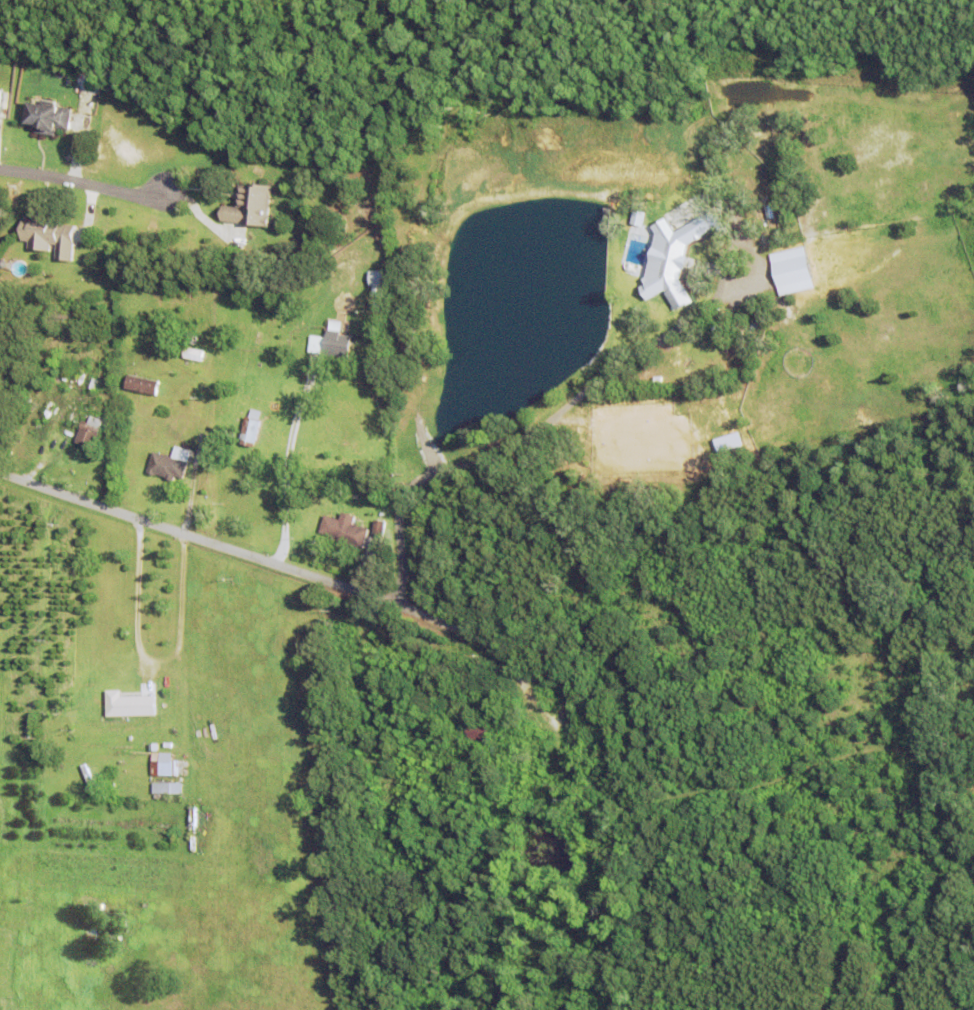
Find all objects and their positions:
building: (8, 61)
building: (48, 116)
road: (89, 185)
building: (250, 204)
building: (49, 235)
building: (670, 260)
building: (790, 270)
building: (376, 283)
building: (378, 303)
building: (272, 326)
building: (195, 342)
building: (338, 343)
building: (194, 353)
building: (94, 384)
building: (142, 384)
building: (287, 393)
building: (251, 427)
building: (90, 431)
road: (530, 432)
road: (286, 456)
building: (167, 466)
building: (380, 528)
building: (345, 529)
road: (266, 560)
road: (149, 662)
building: (129, 705)
building: (480, 734)
building: (602, 734)
building: (153, 747)
building: (528, 749)
building: (529, 761)
building: (165, 765)
building: (168, 790)
building: (554, 793)
building: (158, 797)

